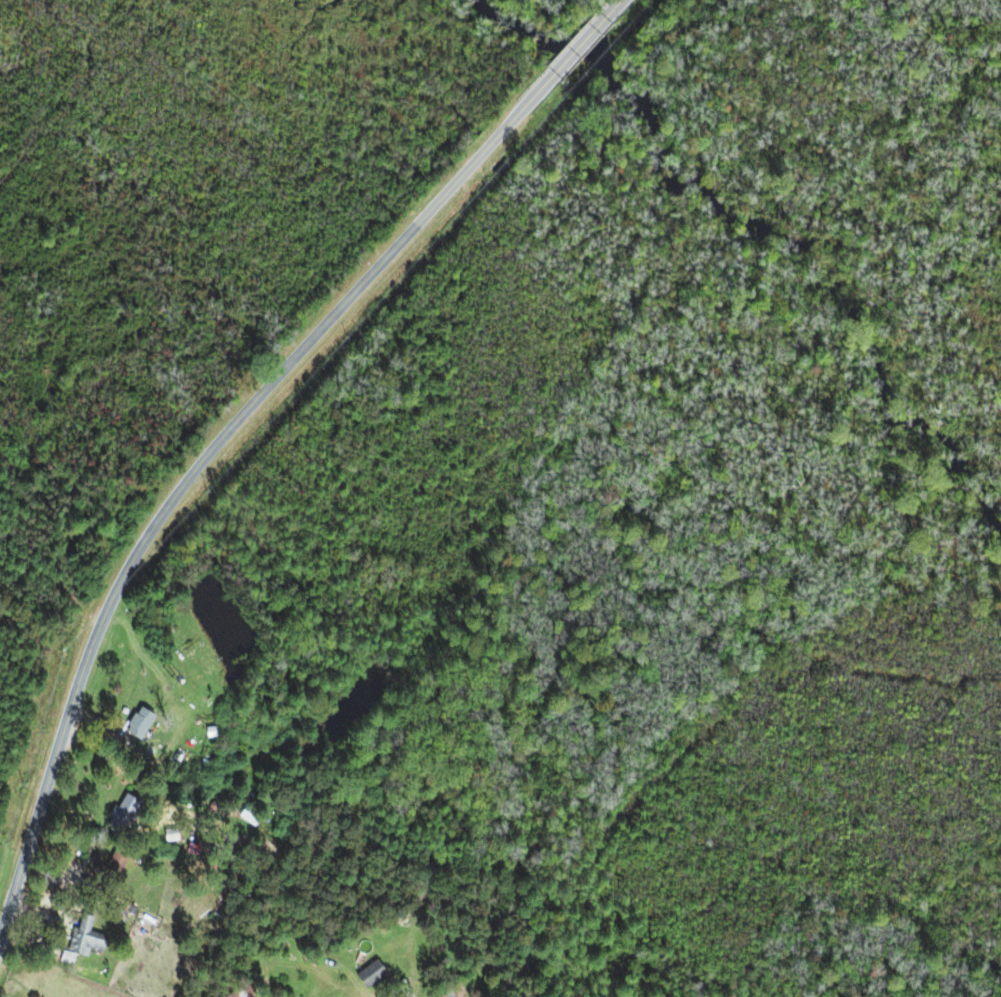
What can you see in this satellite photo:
road: (606, 13)
road: (576, 46)
road: (206, 457)
building: (135, 724)
building: (245, 816)
building: (109, 870)
building: (81, 941)
building: (366, 976)
building: (237, 993)

